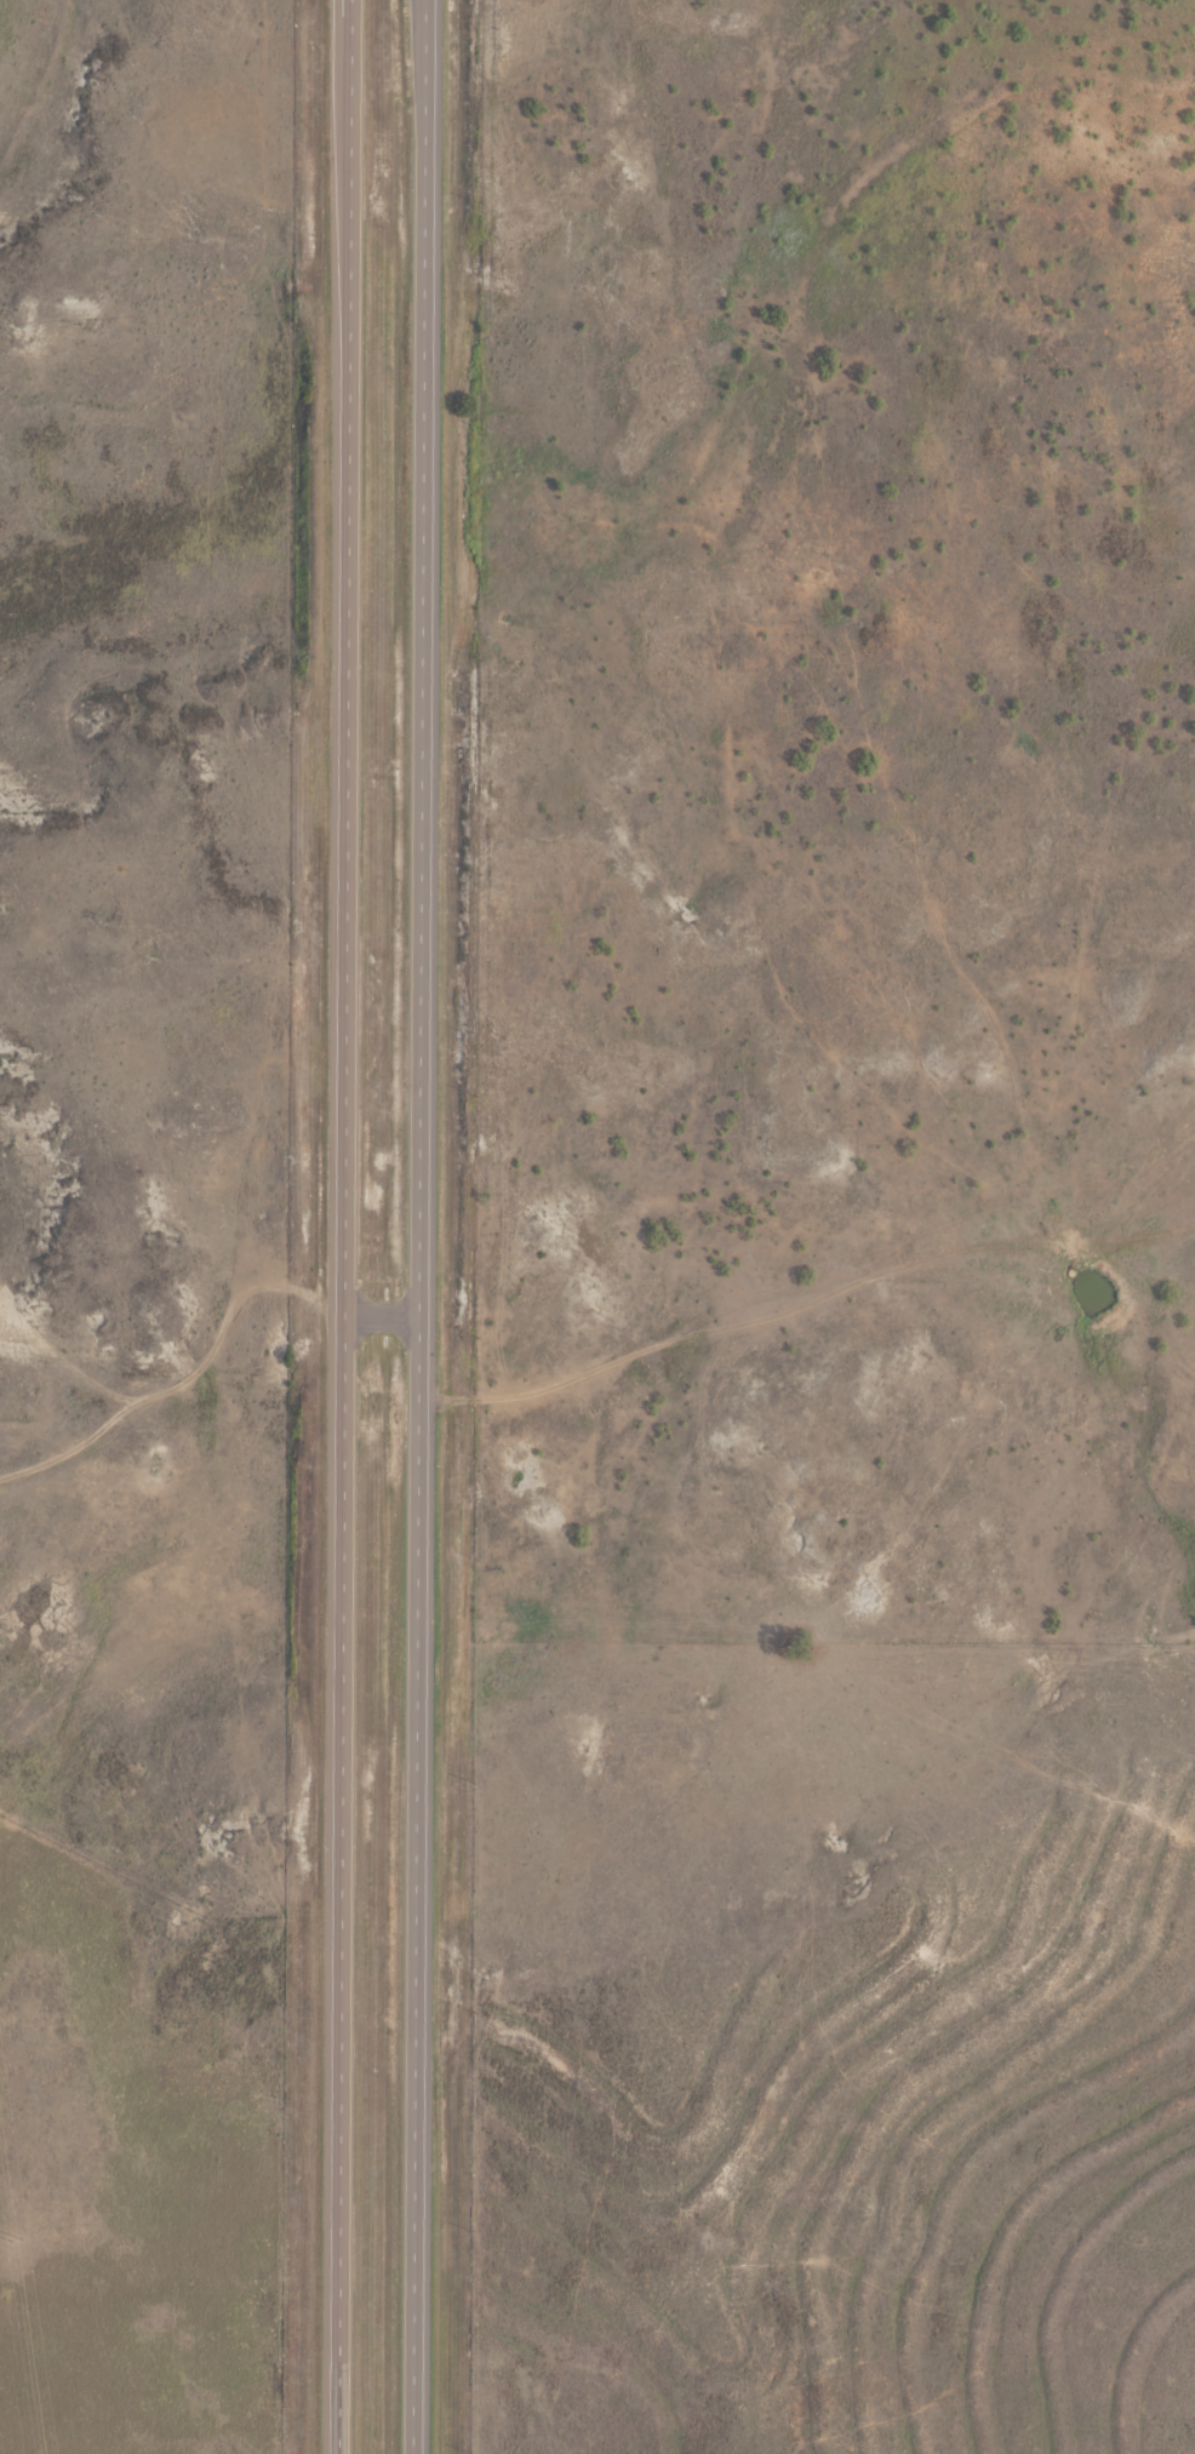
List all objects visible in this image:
road: (424, 699)
road: (345, 1226)
road: (739, 1291)
road: (181, 1377)
road: (383, 1400)
road: (418, 1927)
power tower: (16, 2238)

